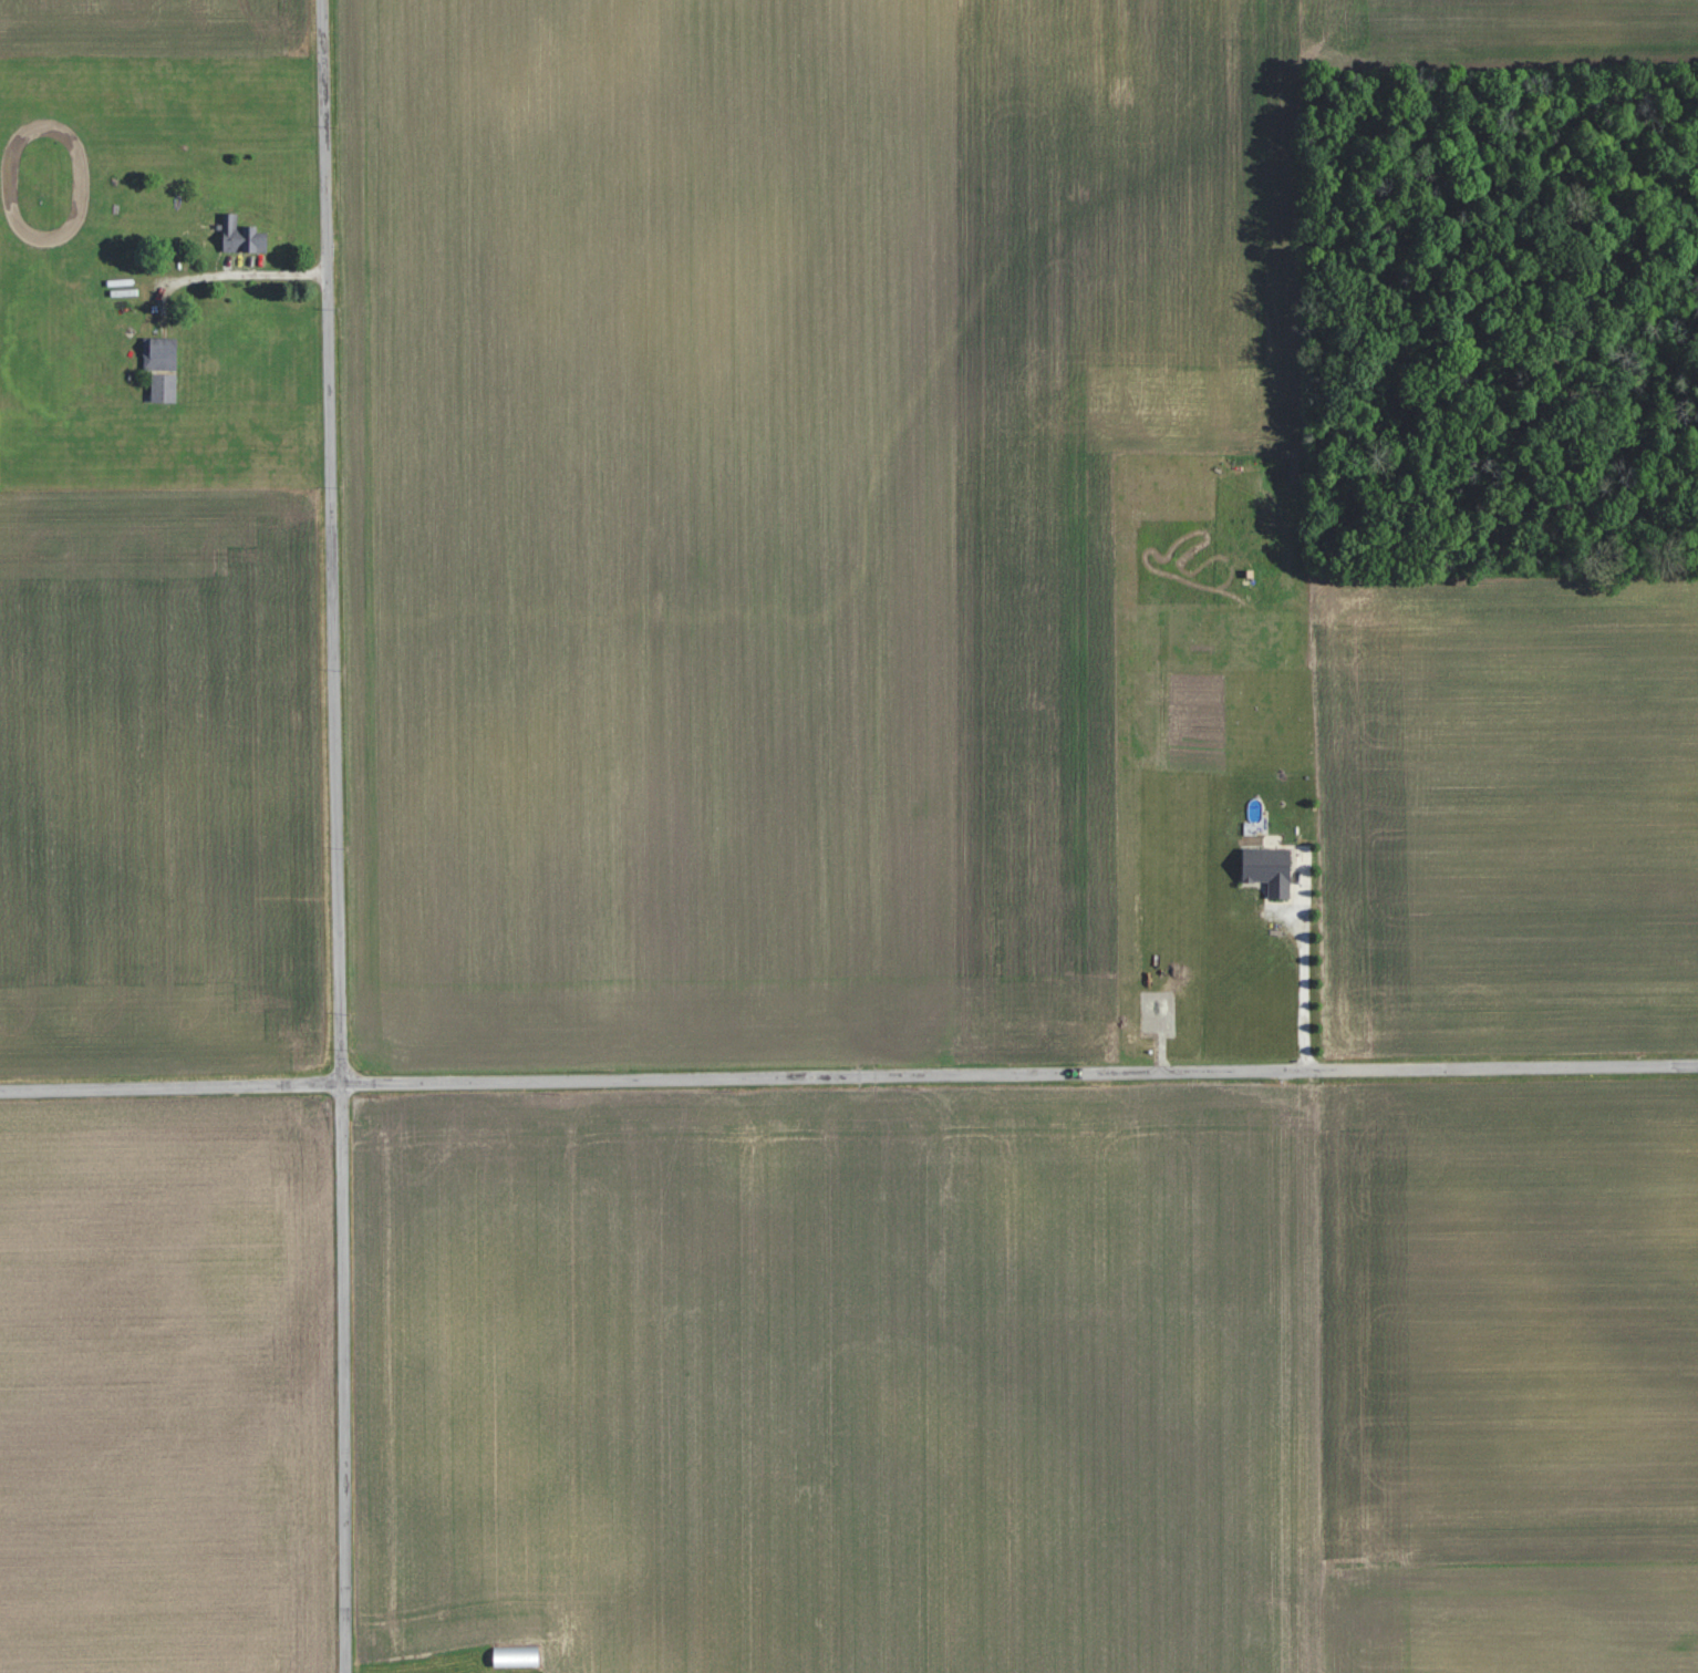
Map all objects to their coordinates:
building: (241, 238)
road: (338, 836)
building: (1266, 869)
road: (1304, 965)
road: (848, 1074)
building: (514, 1656)

